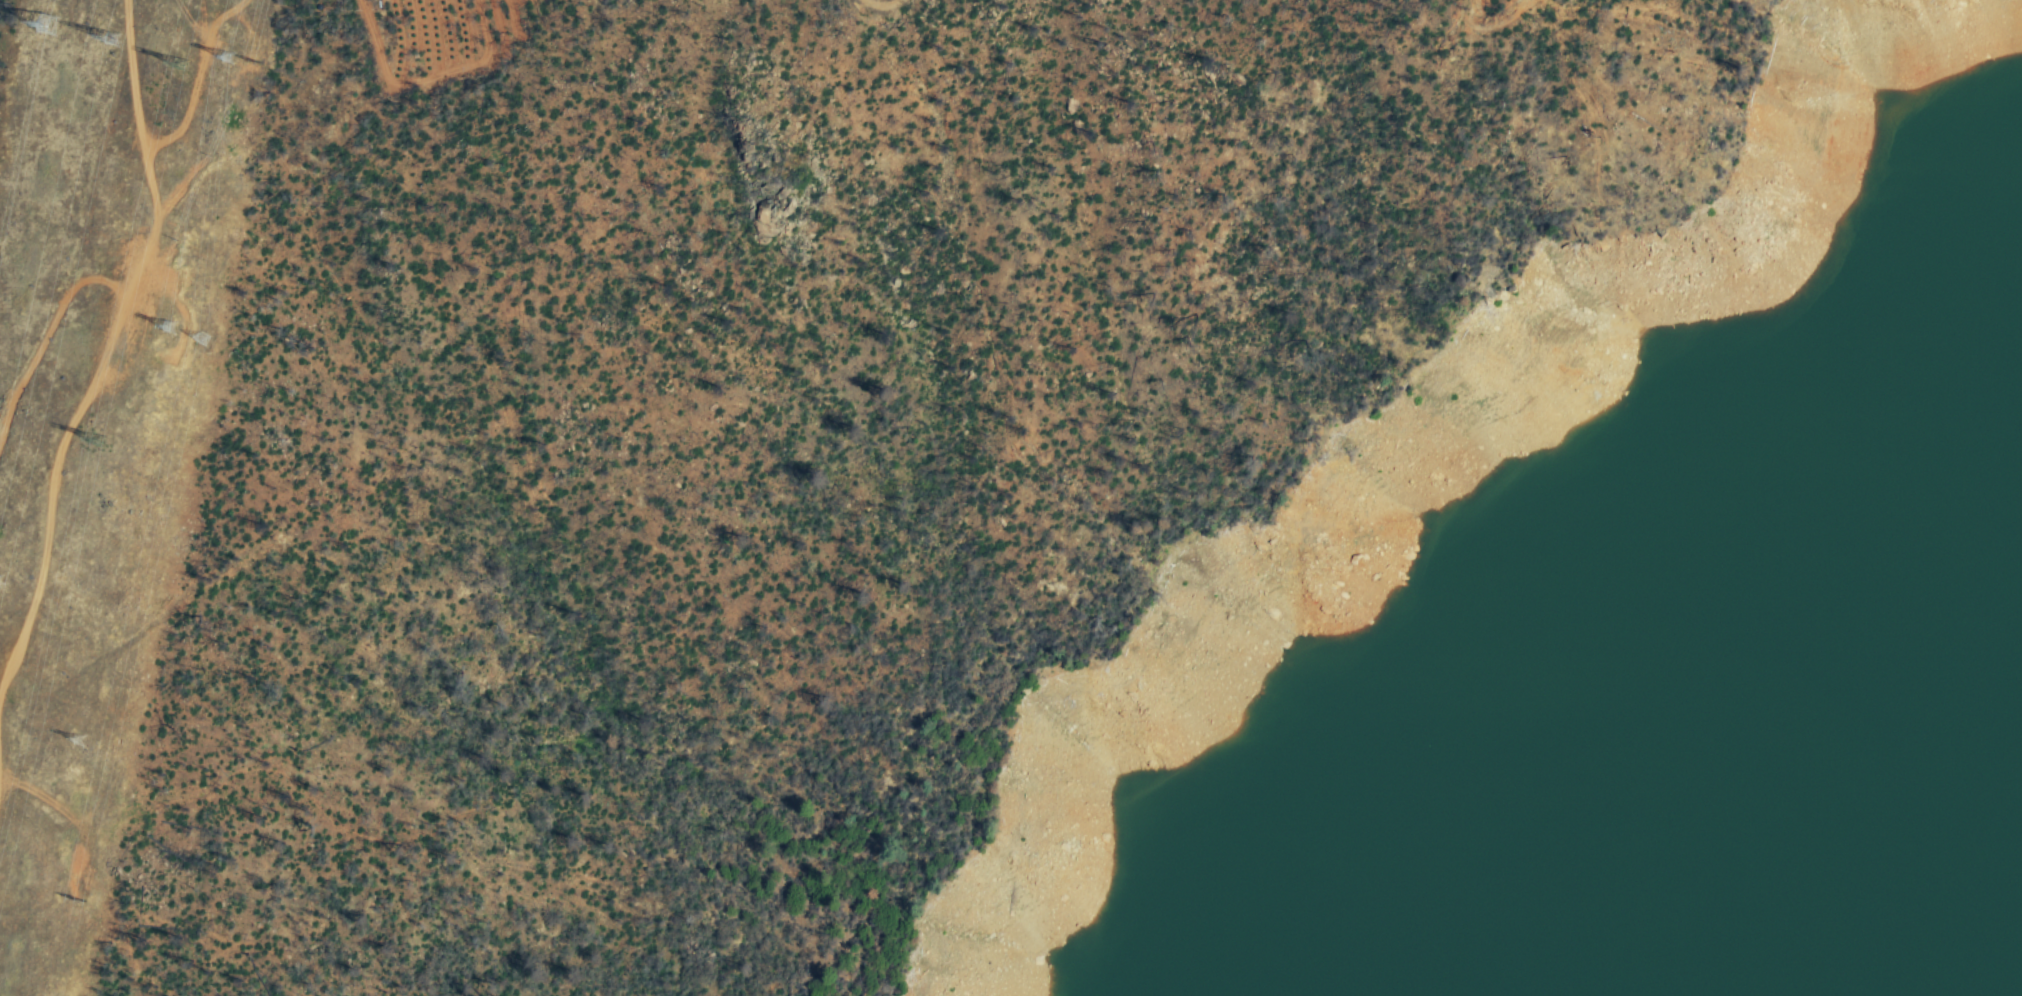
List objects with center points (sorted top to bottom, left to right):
road: (863, 2)
power tower: (45, 26)
power tower: (129, 42)
power tower: (200, 59)
power tower: (248, 59)
power tower: (185, 326)
road: (99, 329)
power tower: (223, 342)
power tower: (118, 431)
power tower: (10, 580)
power tower: (94, 741)
power tower: (96, 914)
power tower: (2, 957)
river: (2015, 982)

